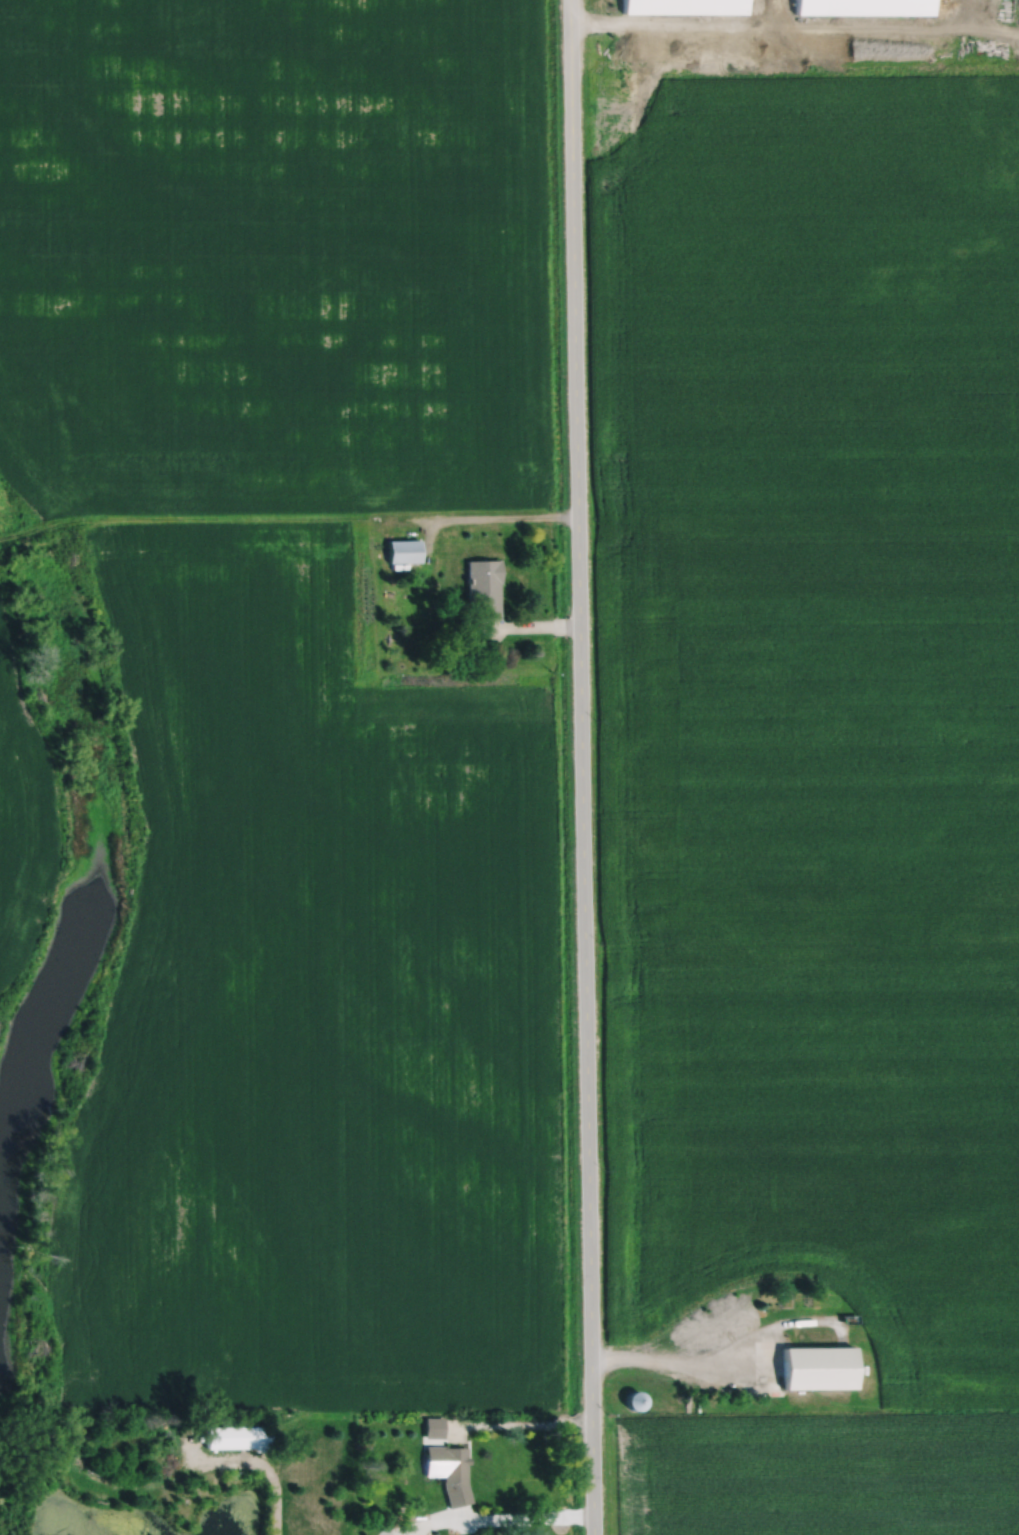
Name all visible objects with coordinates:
building: (684, 6)
building: (863, 6)
road: (679, 25)
crop: (273, 253)
crop: (801, 280)
road: (477, 517)
road: (186, 518)
building: (404, 550)
building: (484, 586)
road: (530, 626)
crop: (806, 738)
road: (582, 767)
crop: (25, 814)
crop: (313, 1002)
crop: (820, 1156)
road: (727, 1363)
building: (815, 1367)
building: (635, 1400)
road: (521, 1426)
building: (433, 1427)
building: (238, 1438)
building: (450, 1472)
crop: (818, 1473)
road: (167, 1483)
road: (490, 1521)

